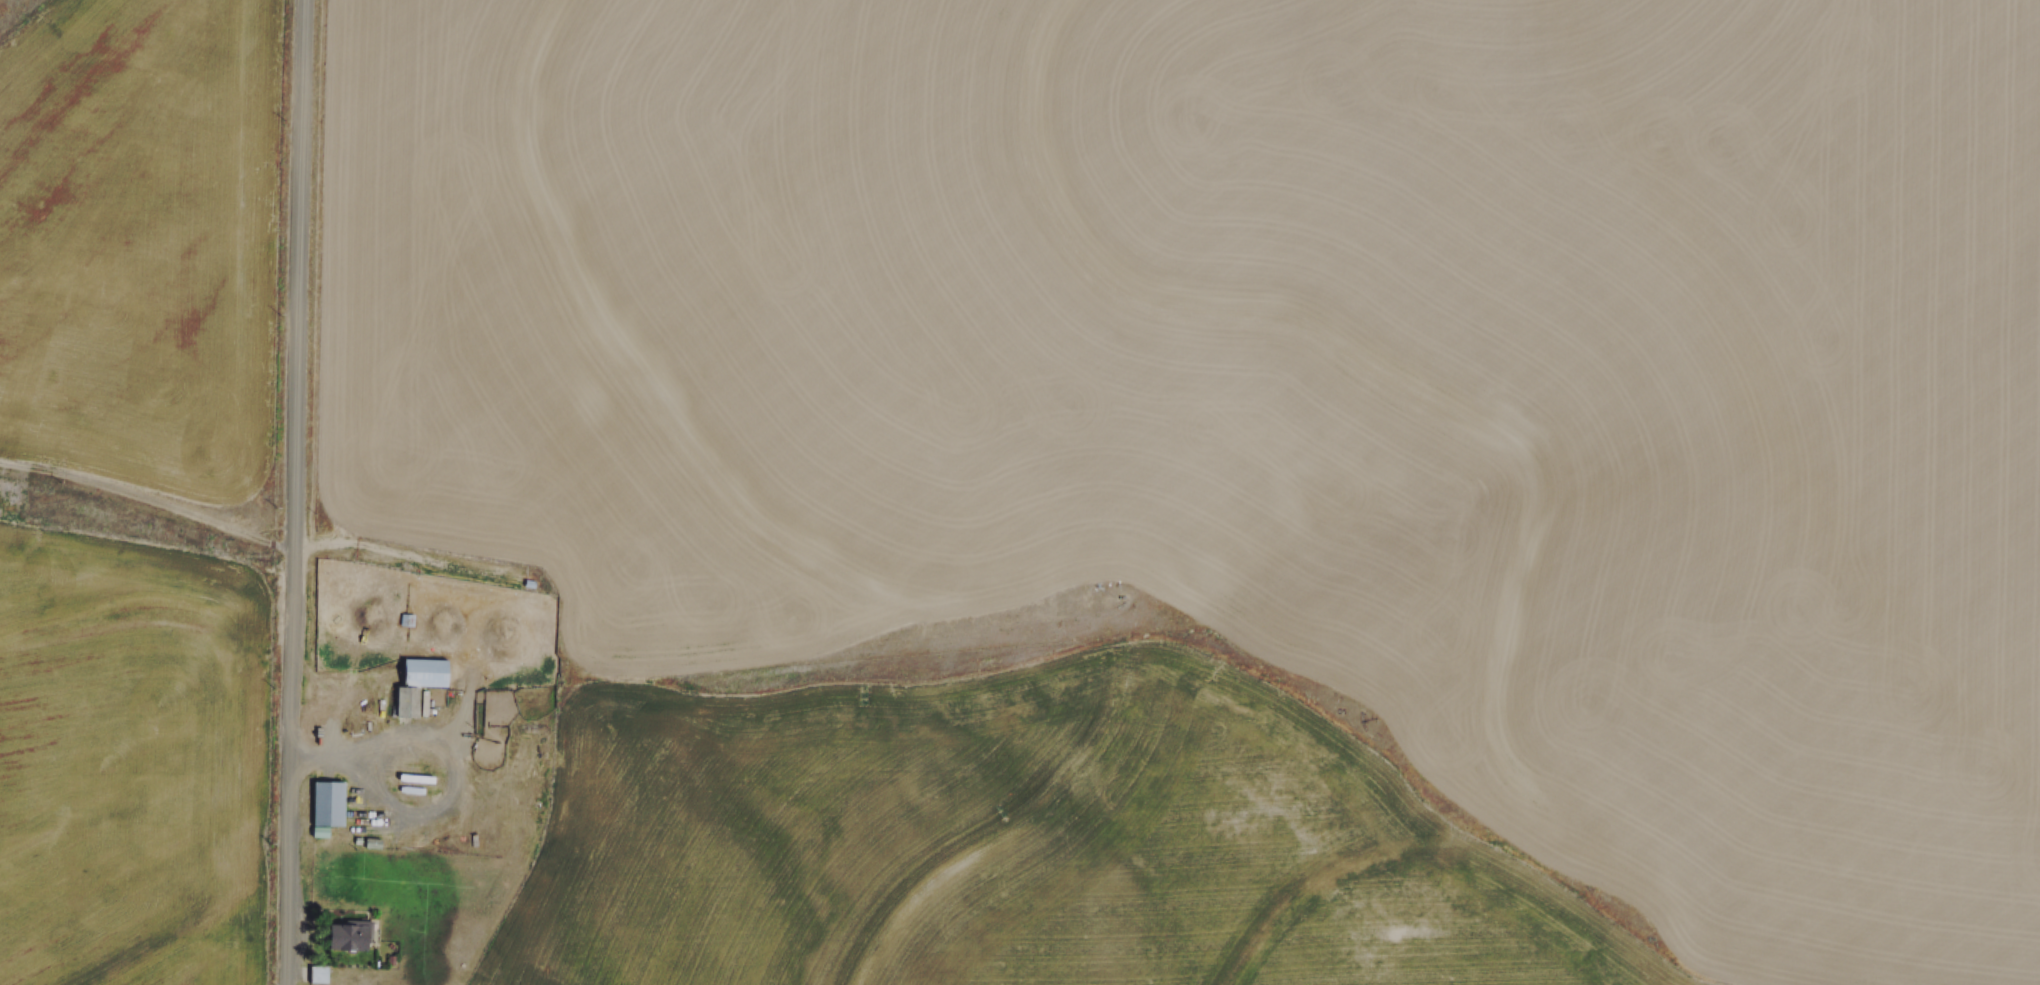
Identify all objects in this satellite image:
road: (294, 492)
building: (343, 935)

